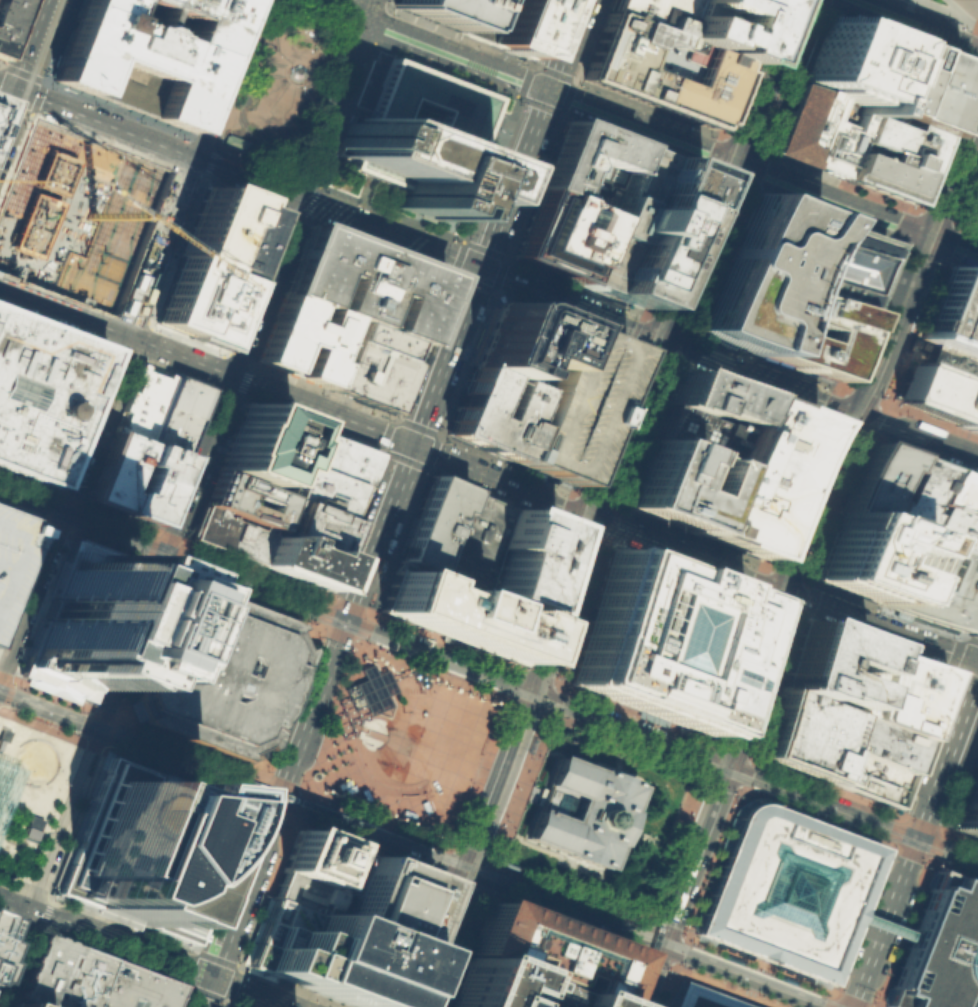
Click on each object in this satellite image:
road: (271, 1)
road: (815, 3)
building: (968, 6)
building: (436, 10)
building: (651, 13)
road: (941, 14)
road: (962, 14)
road: (59, 15)
building: (6, 17)
building: (503, 22)
road: (904, 22)
road: (351, 24)
building: (722, 26)
road: (386, 28)
road: (59, 40)
road: (281, 40)
road: (369, 40)
building: (266, 41)
road: (33, 44)
road: (971, 46)
road: (970, 47)
building: (145, 54)
road: (304, 54)
road: (261, 62)
road: (11, 68)
road: (375, 68)
building: (660, 70)
road: (505, 73)
road: (243, 74)
railway: (29, 79)
road: (759, 79)
road: (40, 80)
road: (572, 81)
building: (839, 87)
building: (912, 87)
traffic signals: (17, 89)
traffic signals: (549, 90)
park: (281, 91)
road: (291, 93)
fountain: (379, 97)
road: (310, 98)
road: (278, 104)
road: (320, 104)
road: (33, 106)
road: (14, 109)
road: (8, 112)
road: (231, 119)
road: (99, 120)
building: (798, 123)
road: (641, 125)
road: (506, 132)
road: (531, 133)
building: (419, 136)
road: (290, 141)
building: (234, 142)
road: (210, 144)
road: (15, 155)
road: (213, 155)
building: (886, 156)
traffic signals: (729, 159)
building: (586, 165)
road: (705, 173)
road: (297, 178)
road: (289, 184)
road: (856, 207)
road: (340, 212)
parking lot: (972, 213)
road: (933, 215)
building: (209, 225)
building: (642, 226)
building: (559, 234)
traffic signals: (935, 237)
building: (244, 238)
road: (695, 247)
road: (286, 249)
building: (845, 264)
traffic signals: (481, 267)
road: (923, 267)
building: (763, 272)
road: (450, 274)
road: (515, 279)
building: (362, 282)
road: (375, 283)
building: (183, 294)
building: (218, 307)
building: (953, 312)
road: (604, 314)
road: (695, 329)
building: (819, 333)
road: (438, 335)
traffic signals: (661, 335)
building: (302, 338)
road: (128, 340)
building: (517, 343)
fountain: (925, 344)
road: (444, 363)
road: (206, 364)
building: (371, 364)
road: (232, 365)
road: (764, 374)
building: (940, 383)
building: (41, 394)
building: (714, 397)
building: (141, 402)
building: (573, 404)
parking lot: (573, 404)
road: (611, 407)
road: (838, 409)
building: (491, 412)
road: (590, 413)
building: (176, 414)
traffic signals: (868, 414)
building: (972, 415)
road: (609, 416)
road: (626, 424)
road: (603, 430)
building: (700, 433)
road: (922, 435)
traffic signals: (413, 445)
building: (260, 447)
road: (927, 455)
building: (335, 456)
road: (423, 465)
road: (425, 467)
building: (114, 471)
building: (765, 476)
building: (882, 482)
building: (150, 484)
building: (681, 484)
road: (839, 488)
building: (322, 491)
building: (959, 493)
building: (916, 495)
road: (32, 496)
building: (241, 499)
railway: (603, 501)
road: (845, 511)
road: (21, 513)
railway: (34, 513)
traffic signals: (593, 514)
road: (623, 522)
building: (435, 523)
road: (383, 524)
building: (309, 525)
road: (54, 527)
building: (952, 529)
road: (69, 531)
building: (228, 534)
building: (479, 540)
road: (615, 542)
building: (11, 551)
parking lot: (11, 551)
road: (695, 552)
railway: (808, 552)
building: (527, 558)
building: (873, 558)
building: (296, 559)
road: (159, 567)
road: (225, 570)
road: (21, 575)
road: (172, 575)
building: (940, 584)
traffic signals: (800, 592)
road: (561, 601)
road: (789, 603)
road: (361, 610)
road: (805, 610)
building: (457, 612)
road: (912, 617)
traffic signals: (348, 618)
building: (78, 619)
road: (347, 620)
road: (363, 627)
road: (329, 632)
road: (361, 634)
railway: (373, 640)
building: (662, 640)
road: (409, 642)
road: (958, 658)
road: (772, 665)
building: (831, 665)
road: (378, 666)
road: (520, 670)
road: (485, 671)
building: (215, 672)
road: (434, 673)
road: (422, 676)
road: (1, 677)
road: (540, 677)
railway: (488, 681)
road: (321, 687)
road: (517, 687)
traffic signals: (529, 688)
building: (368, 689)
building: (899, 691)
road: (3, 696)
road: (549, 699)
road: (86, 708)
road: (527, 709)
road: (348, 710)
road: (0, 711)
road: (44, 712)
road: (329, 717)
flagpole: (363, 717)
road: (422, 720)
fountain: (376, 722)
railway: (547, 722)
flagpole: (351, 723)
road: (39, 724)
road: (404, 725)
road: (113, 727)
building: (359, 728)
road: (389, 728)
road: (89, 729)
building: (3, 734)
road: (102, 734)
building: (805, 734)
flagpole: (354, 737)
road: (966, 738)
road: (10, 739)
road: (352, 741)
fountain: (368, 742)
road: (107, 743)
building: (880, 743)
road: (299, 744)
road: (92, 745)
road: (624, 745)
road: (106, 749)
road: (414, 749)
road: (409, 750)
road: (424, 752)
road: (733, 752)
road: (947, 755)
road: (350, 758)
road: (709, 758)
fountain: (32, 761)
road: (184, 765)
traffic signals: (733, 767)
road: (744, 772)
road: (482, 776)
road: (758, 776)
building: (866, 777)
road: (326, 779)
road: (495, 780)
road: (721, 780)
road: (381, 782)
road: (282, 784)
road: (25, 788)
road: (39, 788)
road: (515, 789)
road: (30, 791)
road: (743, 795)
road: (276, 800)
road: (278, 800)
traffic signals: (278, 801)
railway: (311, 802)
road: (951, 802)
road: (413, 805)
building: (424, 805)
building: (968, 806)
parking lot: (968, 806)
road: (9, 809)
road: (31, 809)
building: (579, 810)
road: (380, 811)
road: (272, 812)
road: (389, 814)
road: (812, 815)
road: (48, 820)
road: (377, 821)
road: (305, 824)
road: (336, 824)
building: (31, 828)
road: (938, 829)
road: (420, 833)
traffic signals: (917, 836)
road: (19, 841)
building: (505, 843)
road: (262, 844)
road: (889, 845)
railway: (419, 846)
road: (883, 846)
road: (675, 848)
building: (147, 849)
road: (403, 849)
road: (470, 856)
park: (8, 857)
road: (48, 857)
building: (308, 859)
road: (711, 860)
road: (438, 862)
road: (449, 863)
road: (932, 864)
building: (510, 865)
traffic signals: (462, 872)
road: (464, 872)
road: (481, 876)
road: (460, 882)
road: (16, 887)
building: (322, 887)
road: (688, 887)
building: (785, 890)
road: (566, 892)
building: (384, 901)
road: (560, 909)
road: (525, 910)
railway: (643, 910)
road: (910, 910)
road: (72, 911)
road: (858, 918)
road: (884, 921)
building: (1, 922)
road: (7, 925)
road: (37, 925)
road: (663, 928)
road: (230, 930)
road: (685, 933)
road: (106, 936)
road: (435, 939)
road: (80, 944)
road: (657, 947)
road: (677, 949)
building: (939, 949)
traffic signals: (664, 950)
building: (545, 951)
road: (637, 953)
road: (214, 955)
building: (321, 955)
road: (189, 966)
road: (755, 967)
building: (42, 971)
traffic signals: (213, 977)
road: (707, 978)
building: (78, 979)
road: (744, 980)
road: (232, 983)
building: (129, 988)
building: (504, 988)
road: (831, 989)
road: (252, 991)
road: (203, 992)
road: (836, 994)
building: (703, 997)
building: (16, 1004)
road: (862, 1004)
building: (231, 1006)

